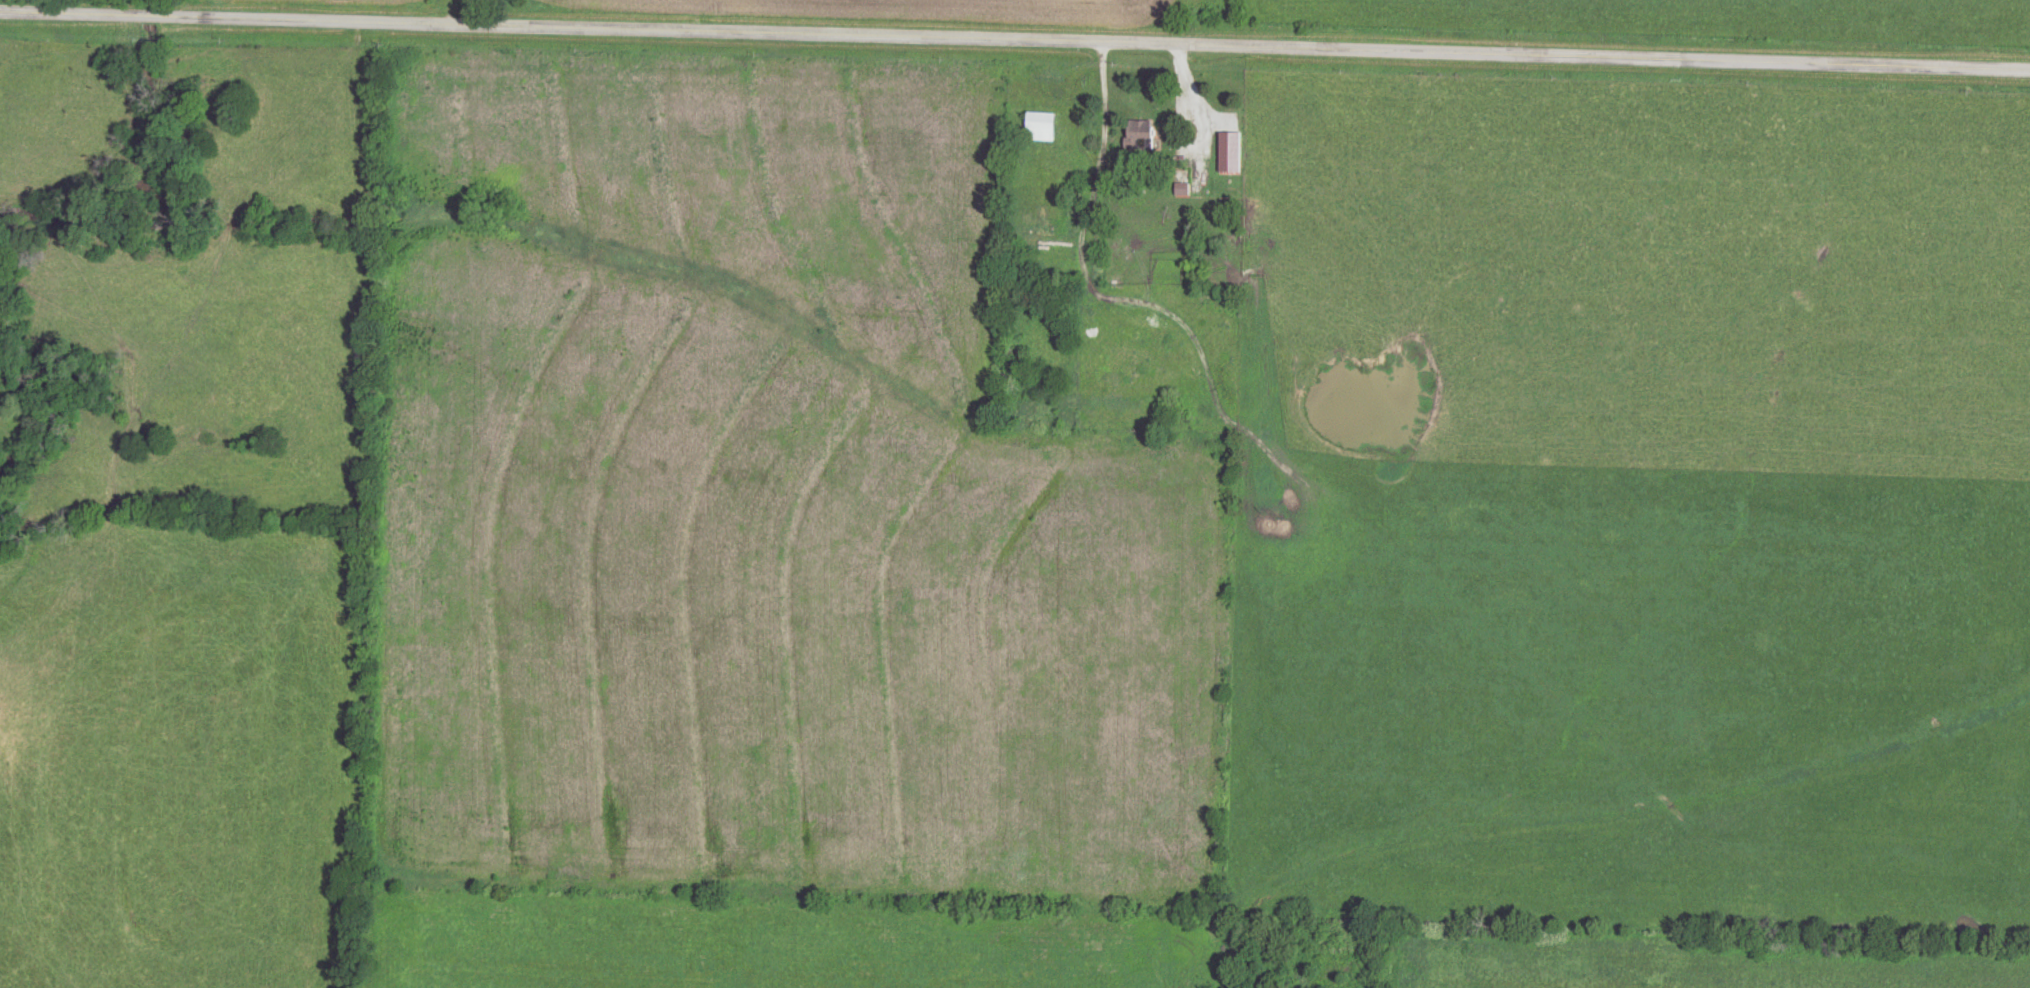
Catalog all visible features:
crop: (18, 0)
road: (1015, 43)
building: (1039, 126)
building: (1142, 133)
building: (1078, 193)
crop: (759, 503)
crop: (1705, 963)

